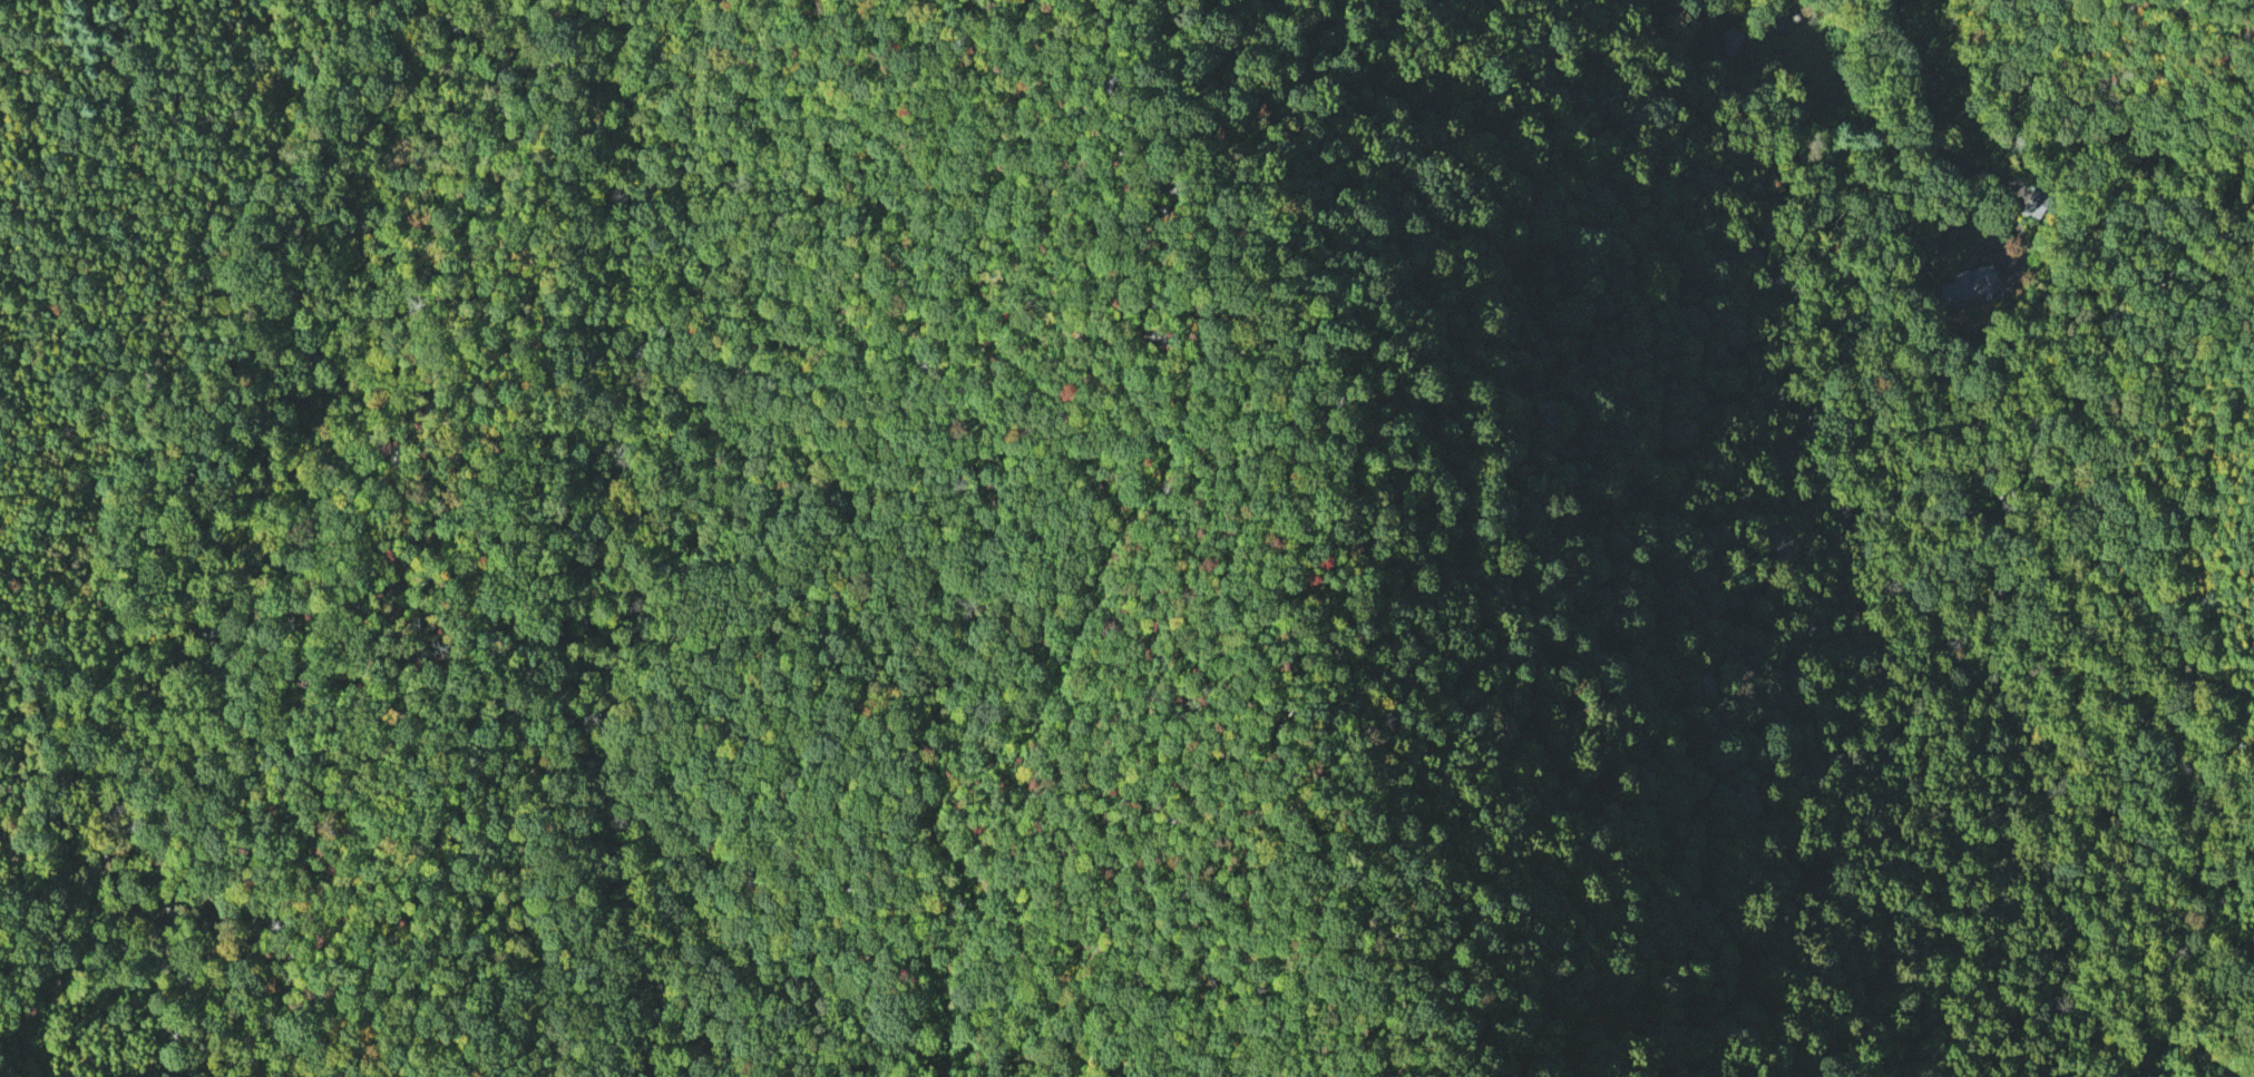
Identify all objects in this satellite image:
building: (1728, 38)
road: (1919, 96)
road: (80, 194)
building: (1977, 283)
road: (1301, 335)
road: (1288, 752)
road: (27, 1036)

